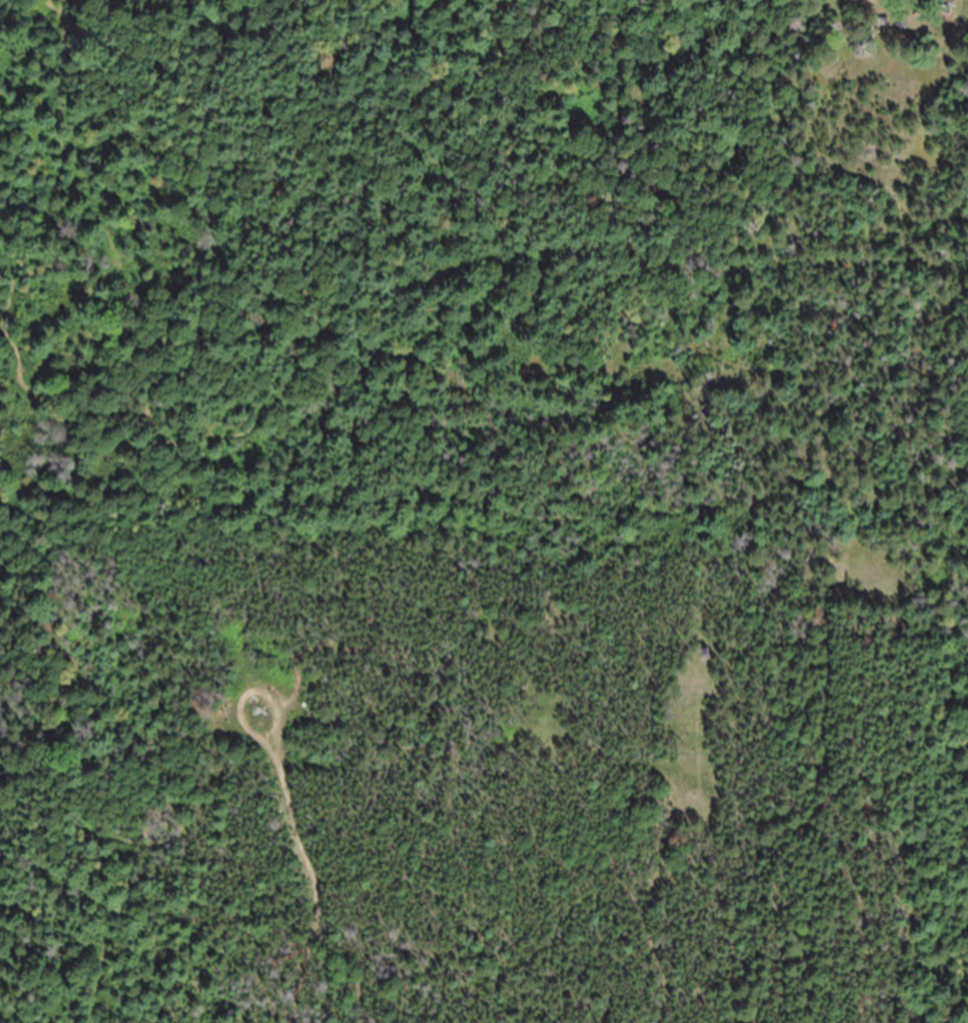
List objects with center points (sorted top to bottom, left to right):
building: (129, 0)

